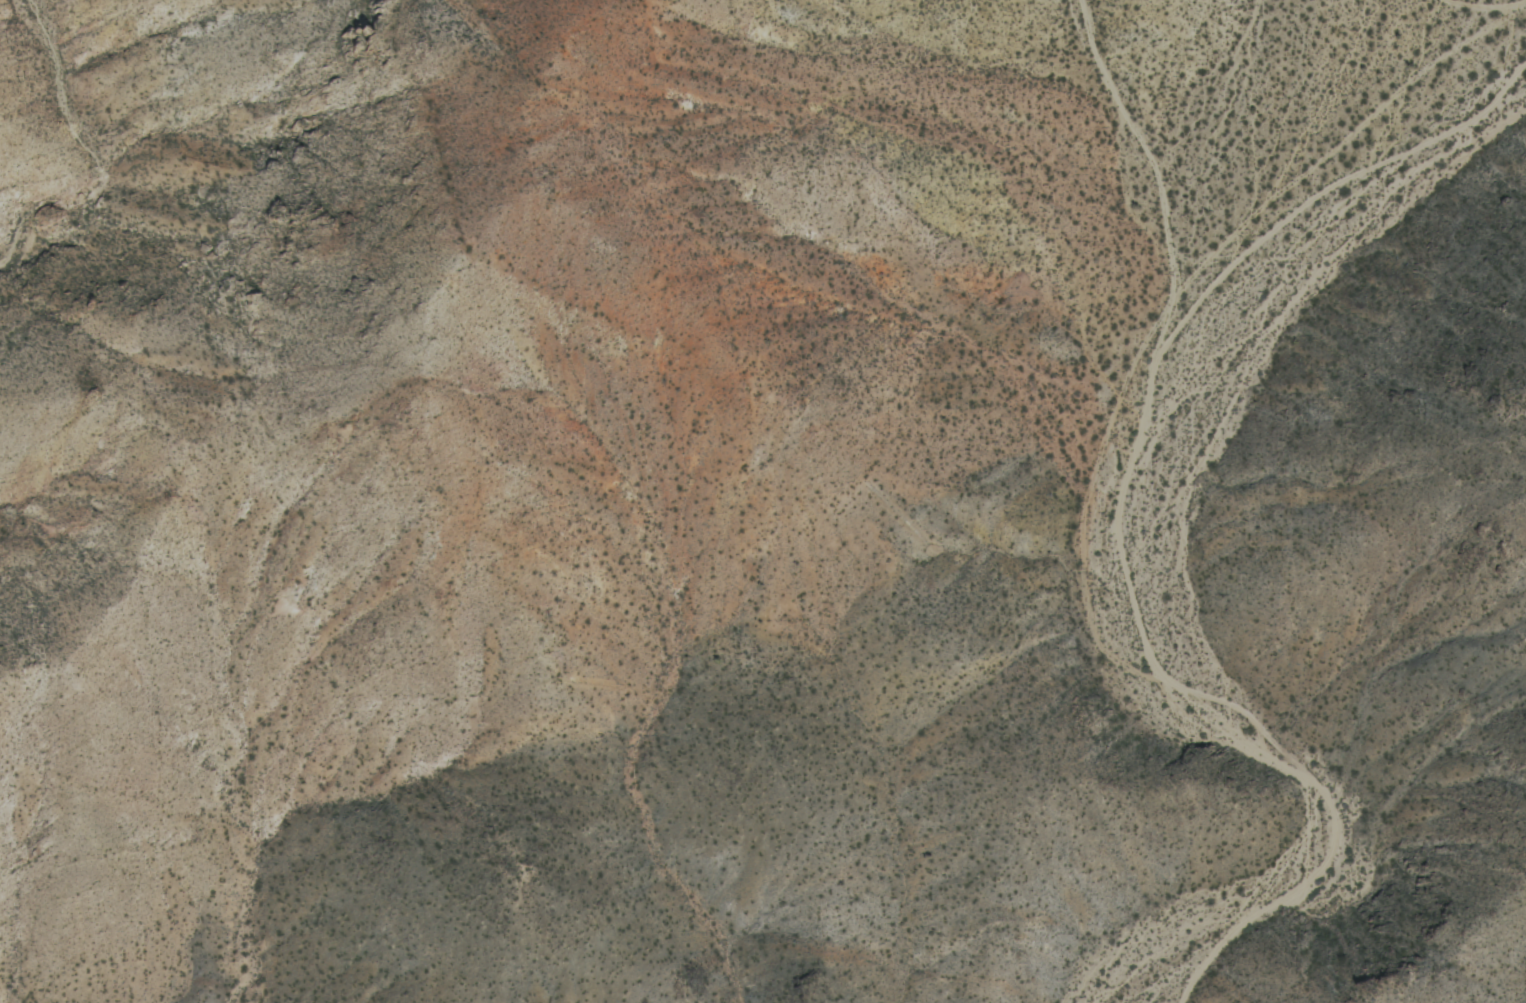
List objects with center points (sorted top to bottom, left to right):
road: (1439, 24)
road: (1104, 142)
road: (1100, 497)

